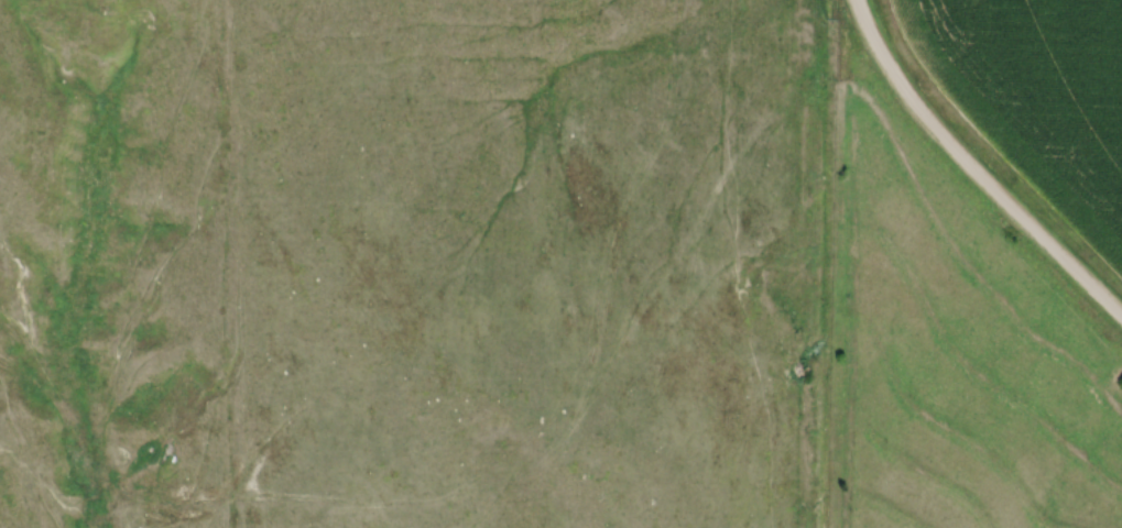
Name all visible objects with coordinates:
road: (973, 168)

